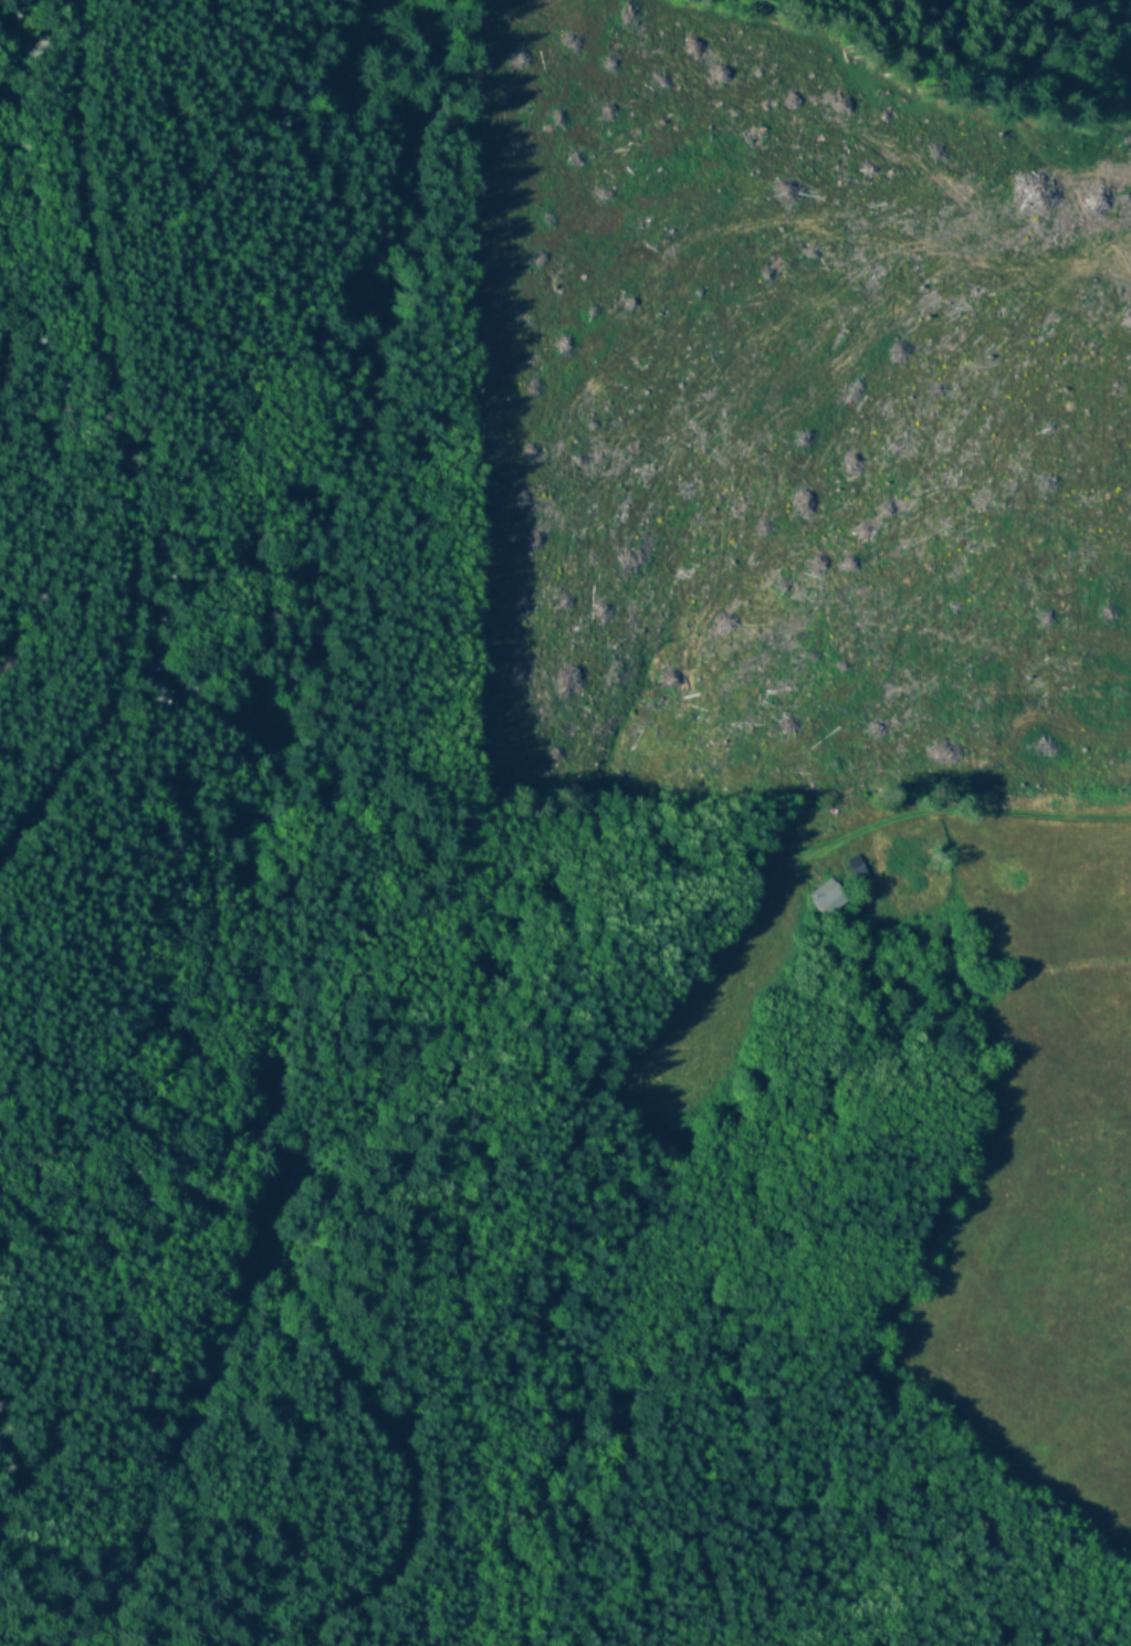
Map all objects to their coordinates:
building: (829, 900)

